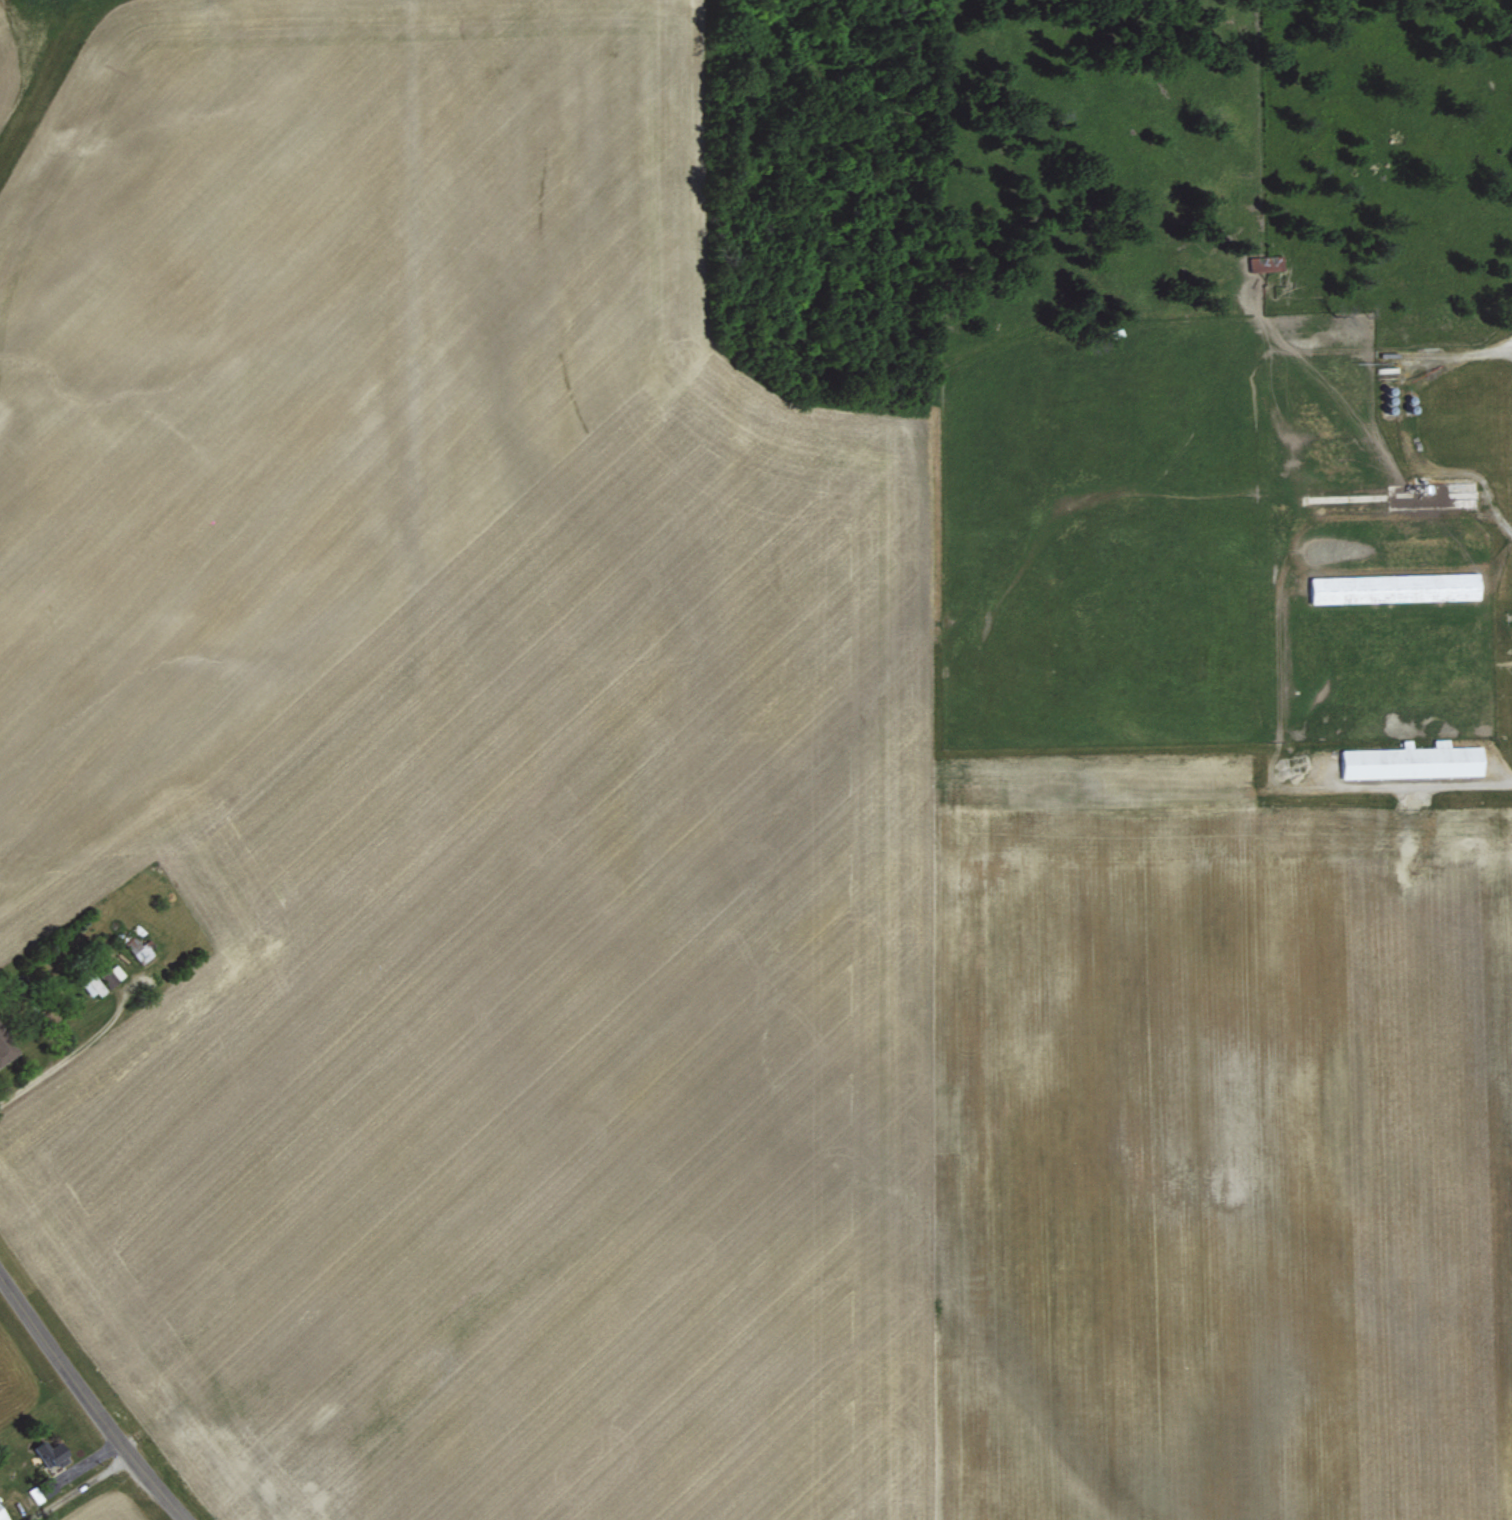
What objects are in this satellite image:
building: (1266, 261)
building: (1395, 586)
building: (1413, 759)
building: (138, 948)
building: (115, 971)
building: (92, 985)
building: (4, 1050)
road: (0, 1054)
road: (87, 1400)
building: (49, 1450)
building: (61, 1475)
building: (43, 1491)
building: (3, 1514)

